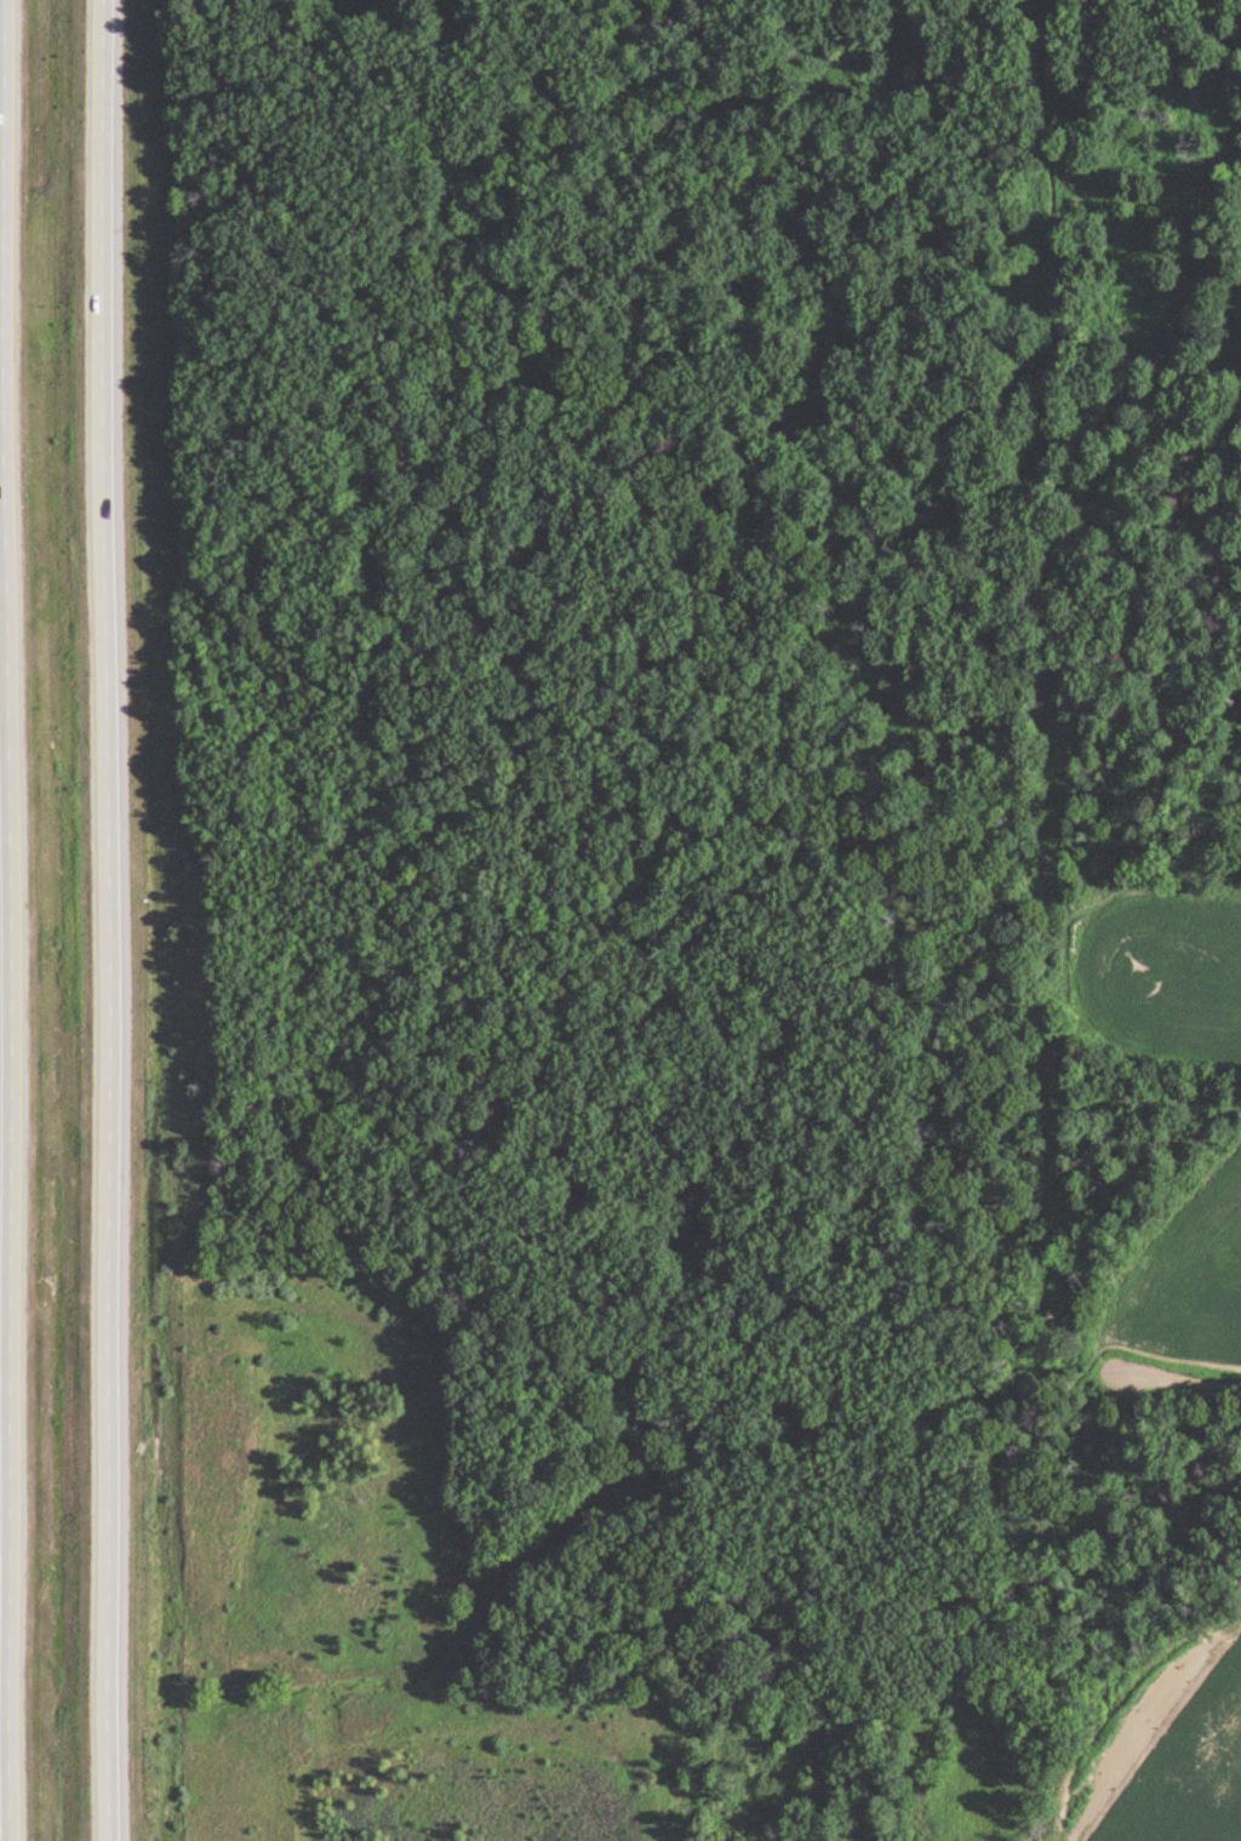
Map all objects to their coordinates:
road: (10, 920)
road: (109, 920)

